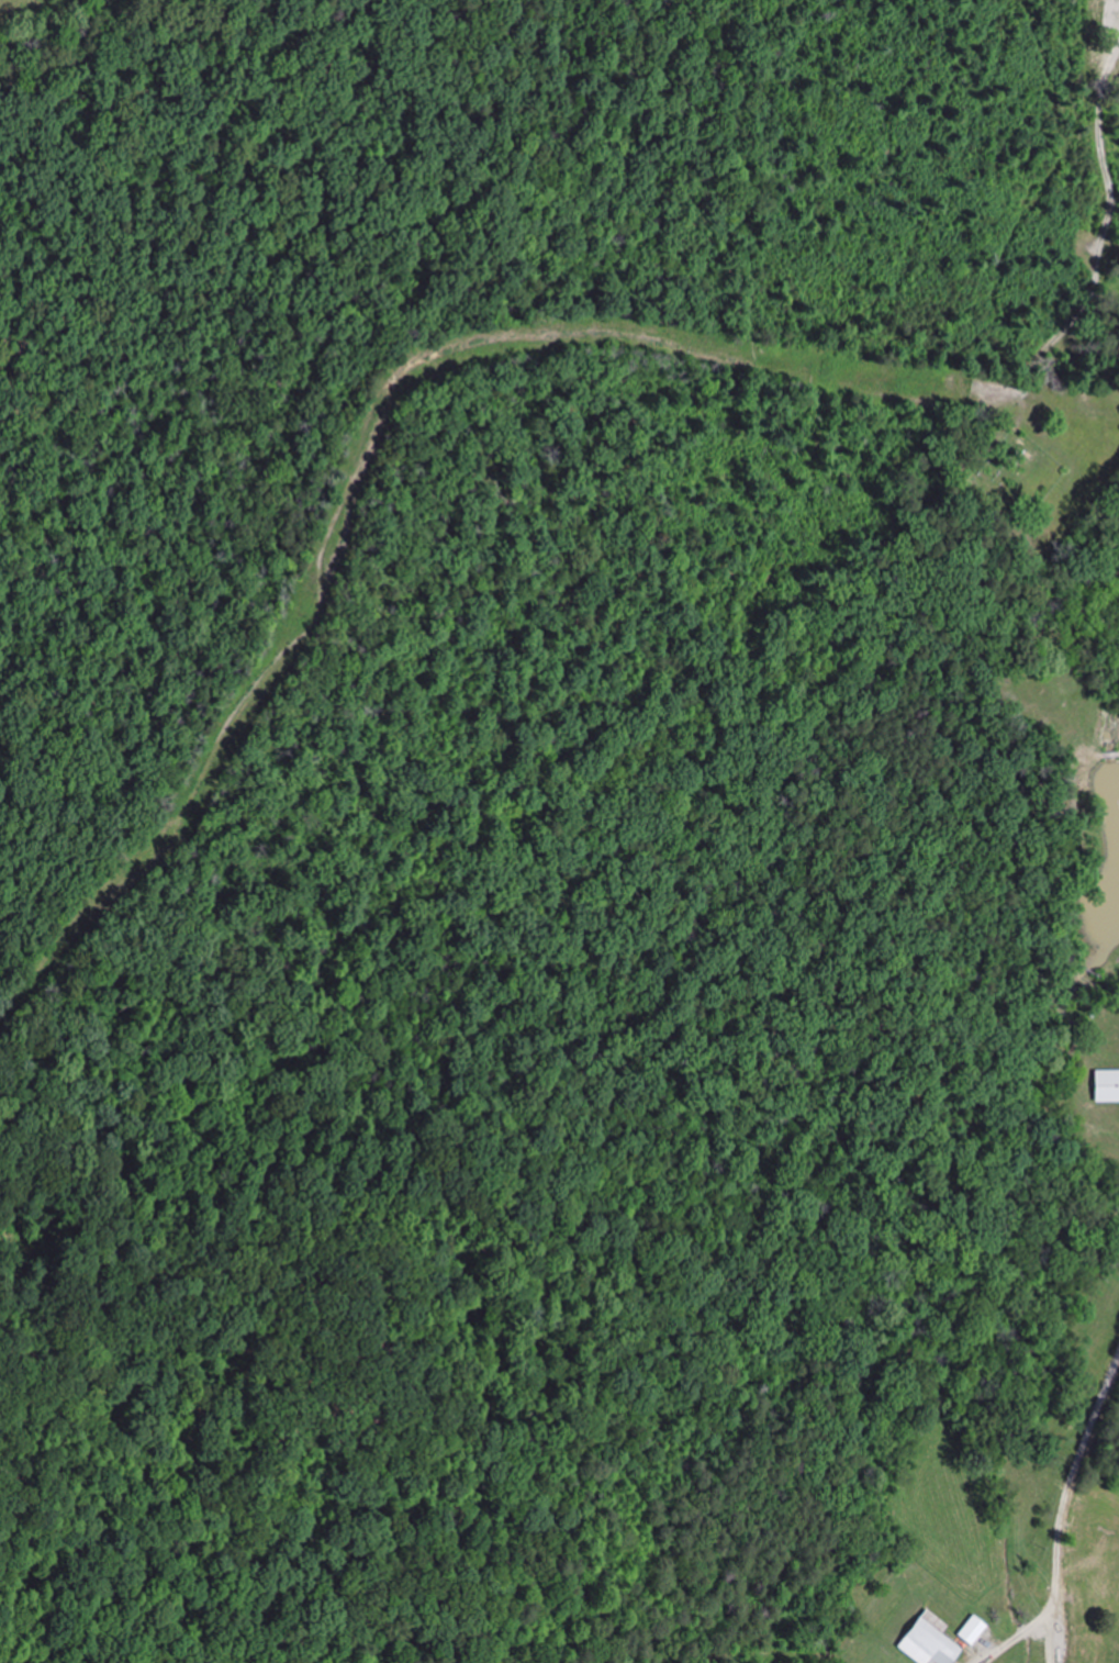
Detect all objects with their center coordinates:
road: (1110, 237)
building: (1104, 1085)
road: (1063, 1506)
building: (969, 1629)
building: (924, 1643)

